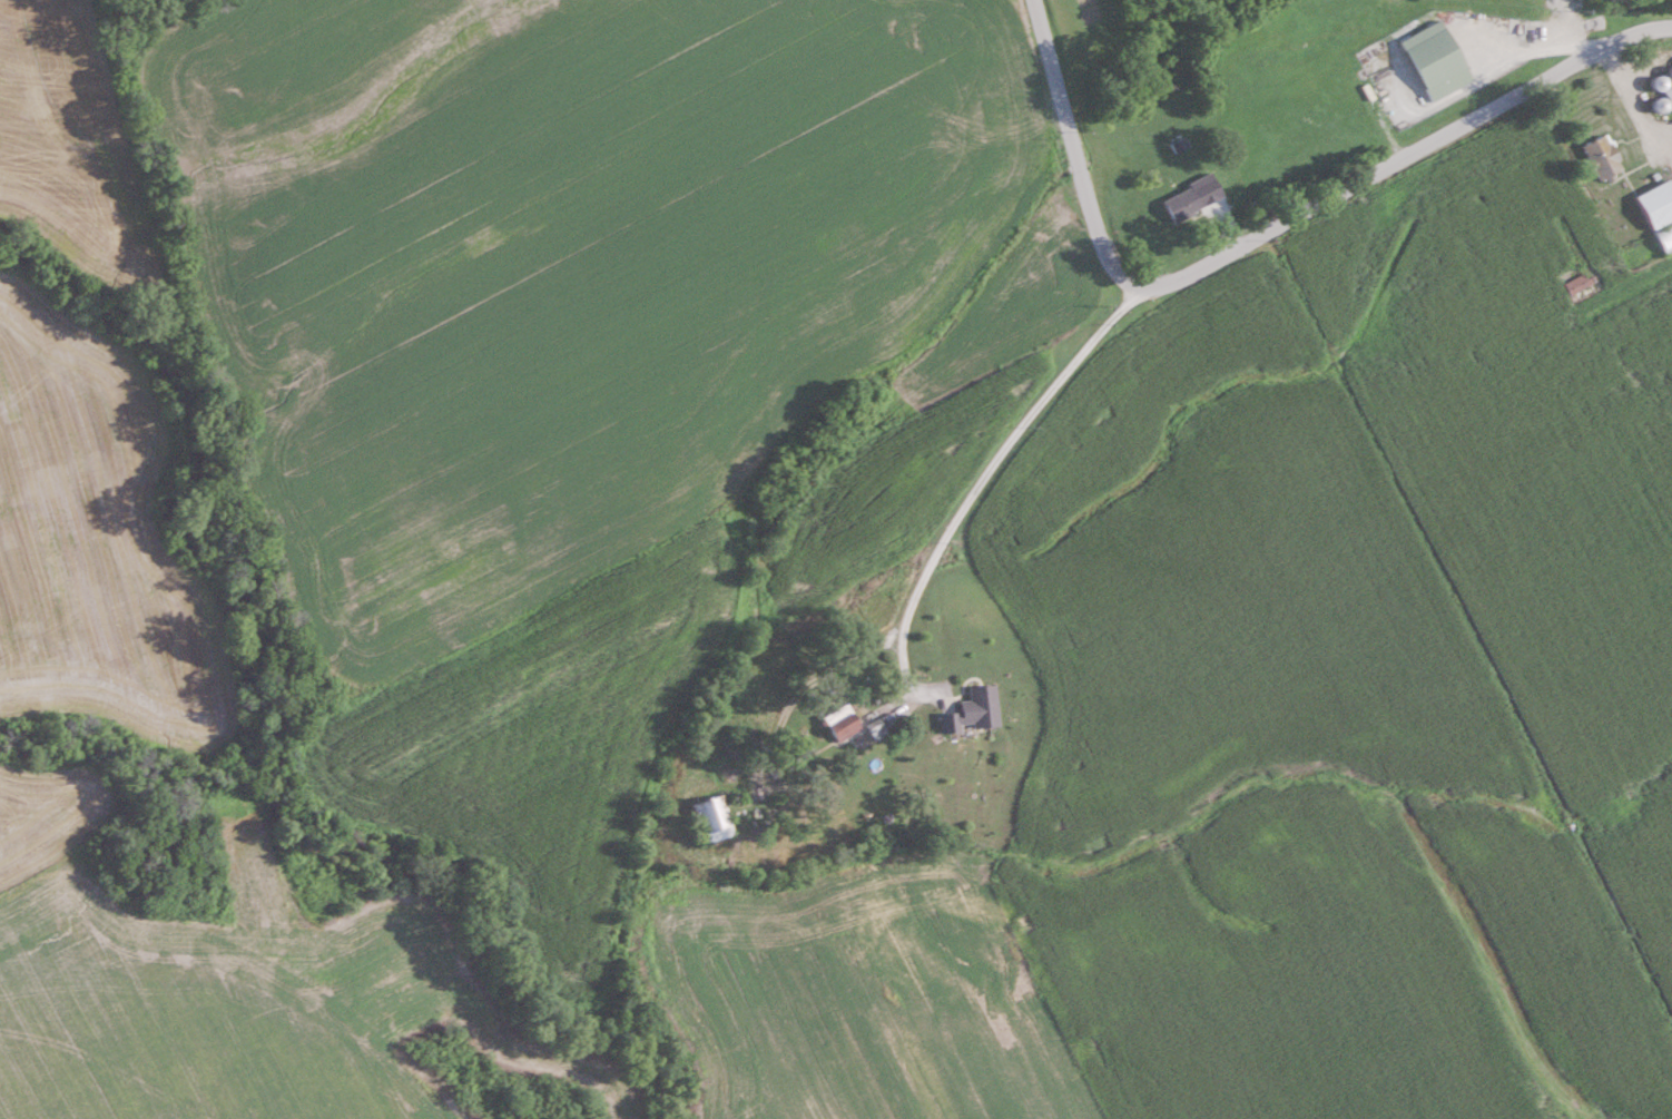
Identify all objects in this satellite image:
building: (1436, 60)
building: (1669, 92)
road: (1631, 114)
building: (1602, 158)
building: (1658, 204)
building: (1181, 205)
road: (1267, 233)
building: (1665, 237)
road: (982, 482)
building: (972, 710)
building: (839, 723)
building: (749, 738)
building: (712, 819)

